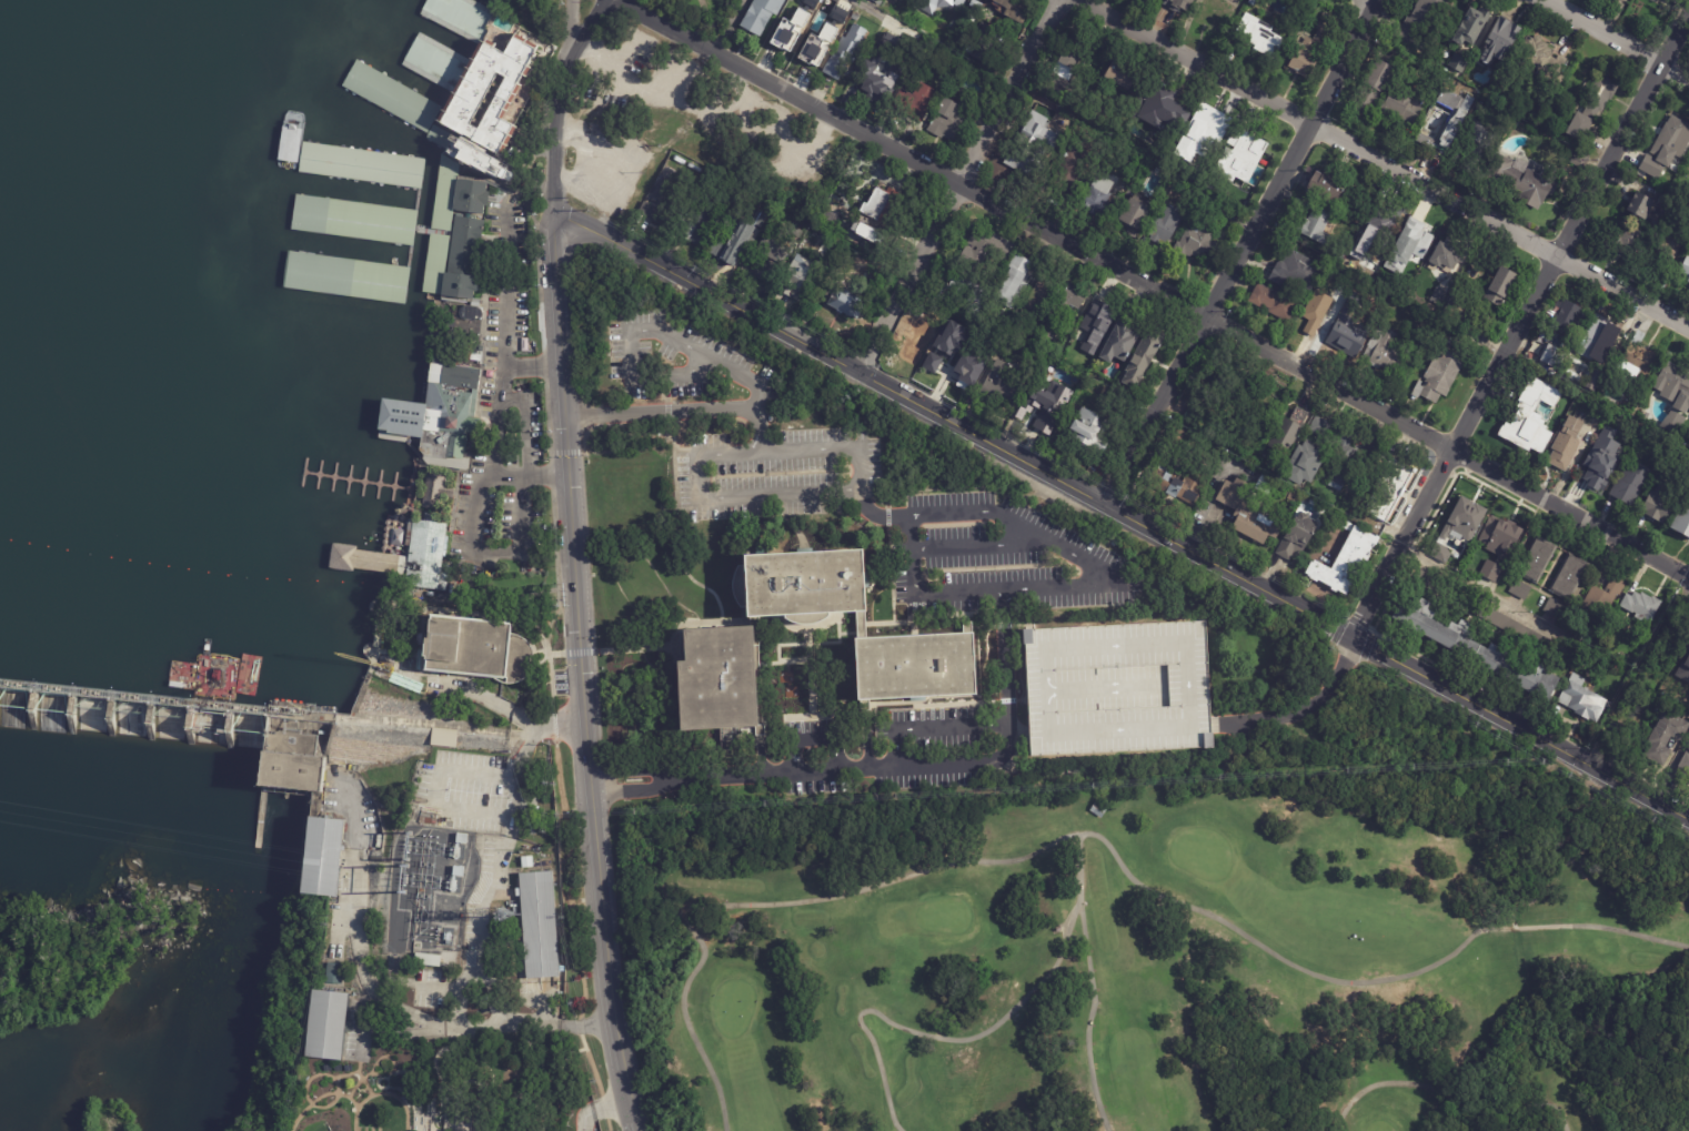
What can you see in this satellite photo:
building: (1619, 0)
building: (1628, 0)
building: (1662, 0)
building: (1666, 0)
building: (877, 1)
building: (905, 1)
building: (1253, 1)
building: (958, 3)
building: (976, 4)
building: (1178, 4)
building: (927, 6)
building: (1017, 8)
road: (1364, 9)
building: (761, 14)
park: (551, 16)
building: (854, 17)
building: (969, 17)
building: (842, 19)
building: (818, 21)
building: (1416, 24)
road: (727, 26)
building: (1472, 26)
building: (790, 31)
building: (1261, 36)
building: (802, 37)
road: (1617, 39)
building: (1499, 43)
building: (1314, 48)
building: (845, 52)
building: (1076, 52)
building: (985, 57)
building: (1540, 60)
building: (1459, 62)
building: (1123, 75)
building: (872, 83)
building: (1056, 87)
building: (1374, 87)
building: (1600, 93)
building: (391, 95)
building: (499, 97)
road: (668, 101)
road: (557, 102)
building: (915, 102)
building: (1154, 104)
building: (1404, 108)
building: (948, 121)
building: (1207, 124)
building: (1456, 125)
building: (1582, 128)
road: (785, 135)
building: (1035, 147)
building: (1477, 147)
building: (1245, 148)
building: (1668, 148)
building: (465, 152)
building: (379, 166)
road: (1389, 168)
building: (1070, 169)
building: (1524, 180)
road: (958, 183)
building: (1329, 188)
building: (1647, 193)
building: (455, 194)
building: (1188, 195)
building: (665, 196)
building: (1098, 196)
building: (1640, 205)
building: (883, 206)
building: (1135, 219)
building: (359, 220)
building: (1165, 225)
building: (1317, 225)
building: (696, 228)
building: (1379, 228)
building: (433, 231)
building: (868, 234)
building: (471, 241)
building: (992, 242)
building: (1629, 242)
building: (1672, 243)
building: (1199, 244)
building: (1410, 246)
building: (718, 250)
road: (1239, 251)
building: (1448, 254)
building: (771, 257)
building: (1021, 264)
building: (1299, 270)
building: (1685, 270)
building: (354, 276)
building: (797, 280)
building: (1688, 283)
building: (1014, 287)
building: (1500, 287)
building: (958, 291)
road: (1153, 291)
building: (1348, 292)
building: (1042, 300)
building: (1274, 303)
building: (848, 305)
building: (1064, 310)
building: (1459, 310)
building: (1317, 311)
building: (1100, 313)
building: (1570, 320)
building: (1484, 324)
road: (1520, 324)
building: (1345, 332)
building: (948, 336)
building: (924, 337)
building: (1600, 340)
building: (1122, 341)
road: (500, 344)
building: (1386, 351)
building: (477, 355)
parking lot: (673, 356)
building: (1144, 357)
building: (1640, 357)
building: (1555, 359)
building: (931, 363)
road: (530, 366)
building: (967, 367)
building: (1442, 373)
building: (461, 374)
building: (1596, 380)
road: (755, 384)
building: (1004, 384)
building: (1675, 386)
building: (1536, 404)
building: (1045, 405)
parking lot: (511, 406)
road: (661, 412)
building: (1196, 416)
building: (442, 421)
building: (1320, 427)
building: (1288, 432)
building: (1090, 433)
building: (1185, 442)
building: (1569, 444)
building: (1344, 462)
building: (1306, 465)
building: (1600, 466)
road: (529, 472)
parking lot: (774, 473)
building: (1182, 478)
building: (1632, 485)
building: (432, 489)
building: (1268, 489)
building: (1388, 491)
road: (722, 501)
building: (1661, 506)
road: (1122, 514)
building: (1247, 514)
building: (1465, 516)
building: (1683, 524)
building: (398, 537)
building: (1496, 537)
building: (1298, 538)
road: (979, 545)
road: (482, 552)
building: (408, 557)
road: (1078, 557)
parking lot: (998, 559)
building: (1540, 559)
building: (1344, 563)
river: (222, 568)
building: (1484, 570)
building: (1571, 578)
building: (795, 584)
building: (1520, 590)
road: (917, 592)
building: (1601, 603)
road: (421, 606)
road: (683, 606)
road: (1516, 606)
building: (1642, 607)
building: (1555, 609)
building: (807, 618)
building: (861, 625)
building: (1585, 630)
building: (1520, 632)
building: (472, 647)
road: (624, 650)
building: (1479, 653)
building: (902, 668)
building: (1683, 671)
road: (582, 675)
building: (701, 681)
building: (1116, 688)
road: (491, 700)
building: (1584, 700)
road: (1301, 710)
road: (932, 726)
road: (563, 728)
dam: (250, 733)
road: (1244, 736)
building: (444, 737)
building: (1667, 739)
road: (878, 766)
building: (1685, 768)
building: (291, 771)
road: (441, 786)
building: (1098, 810)
building: (462, 839)
building: (320, 856)
park: (1200, 857)
building: (526, 861)
building: (459, 872)
power substation: (430, 891)
road: (760, 905)
road: (484, 915)
park: (945, 915)
building: (539, 925)
road: (1231, 928)
park: (1164, 958)
building: (428, 960)
building: (333, 973)
park: (733, 1008)
road: (406, 1014)
building: (326, 1024)
road: (943, 1039)
road: (599, 1107)
road: (1447, 1108)
park: (1380, 1125)

